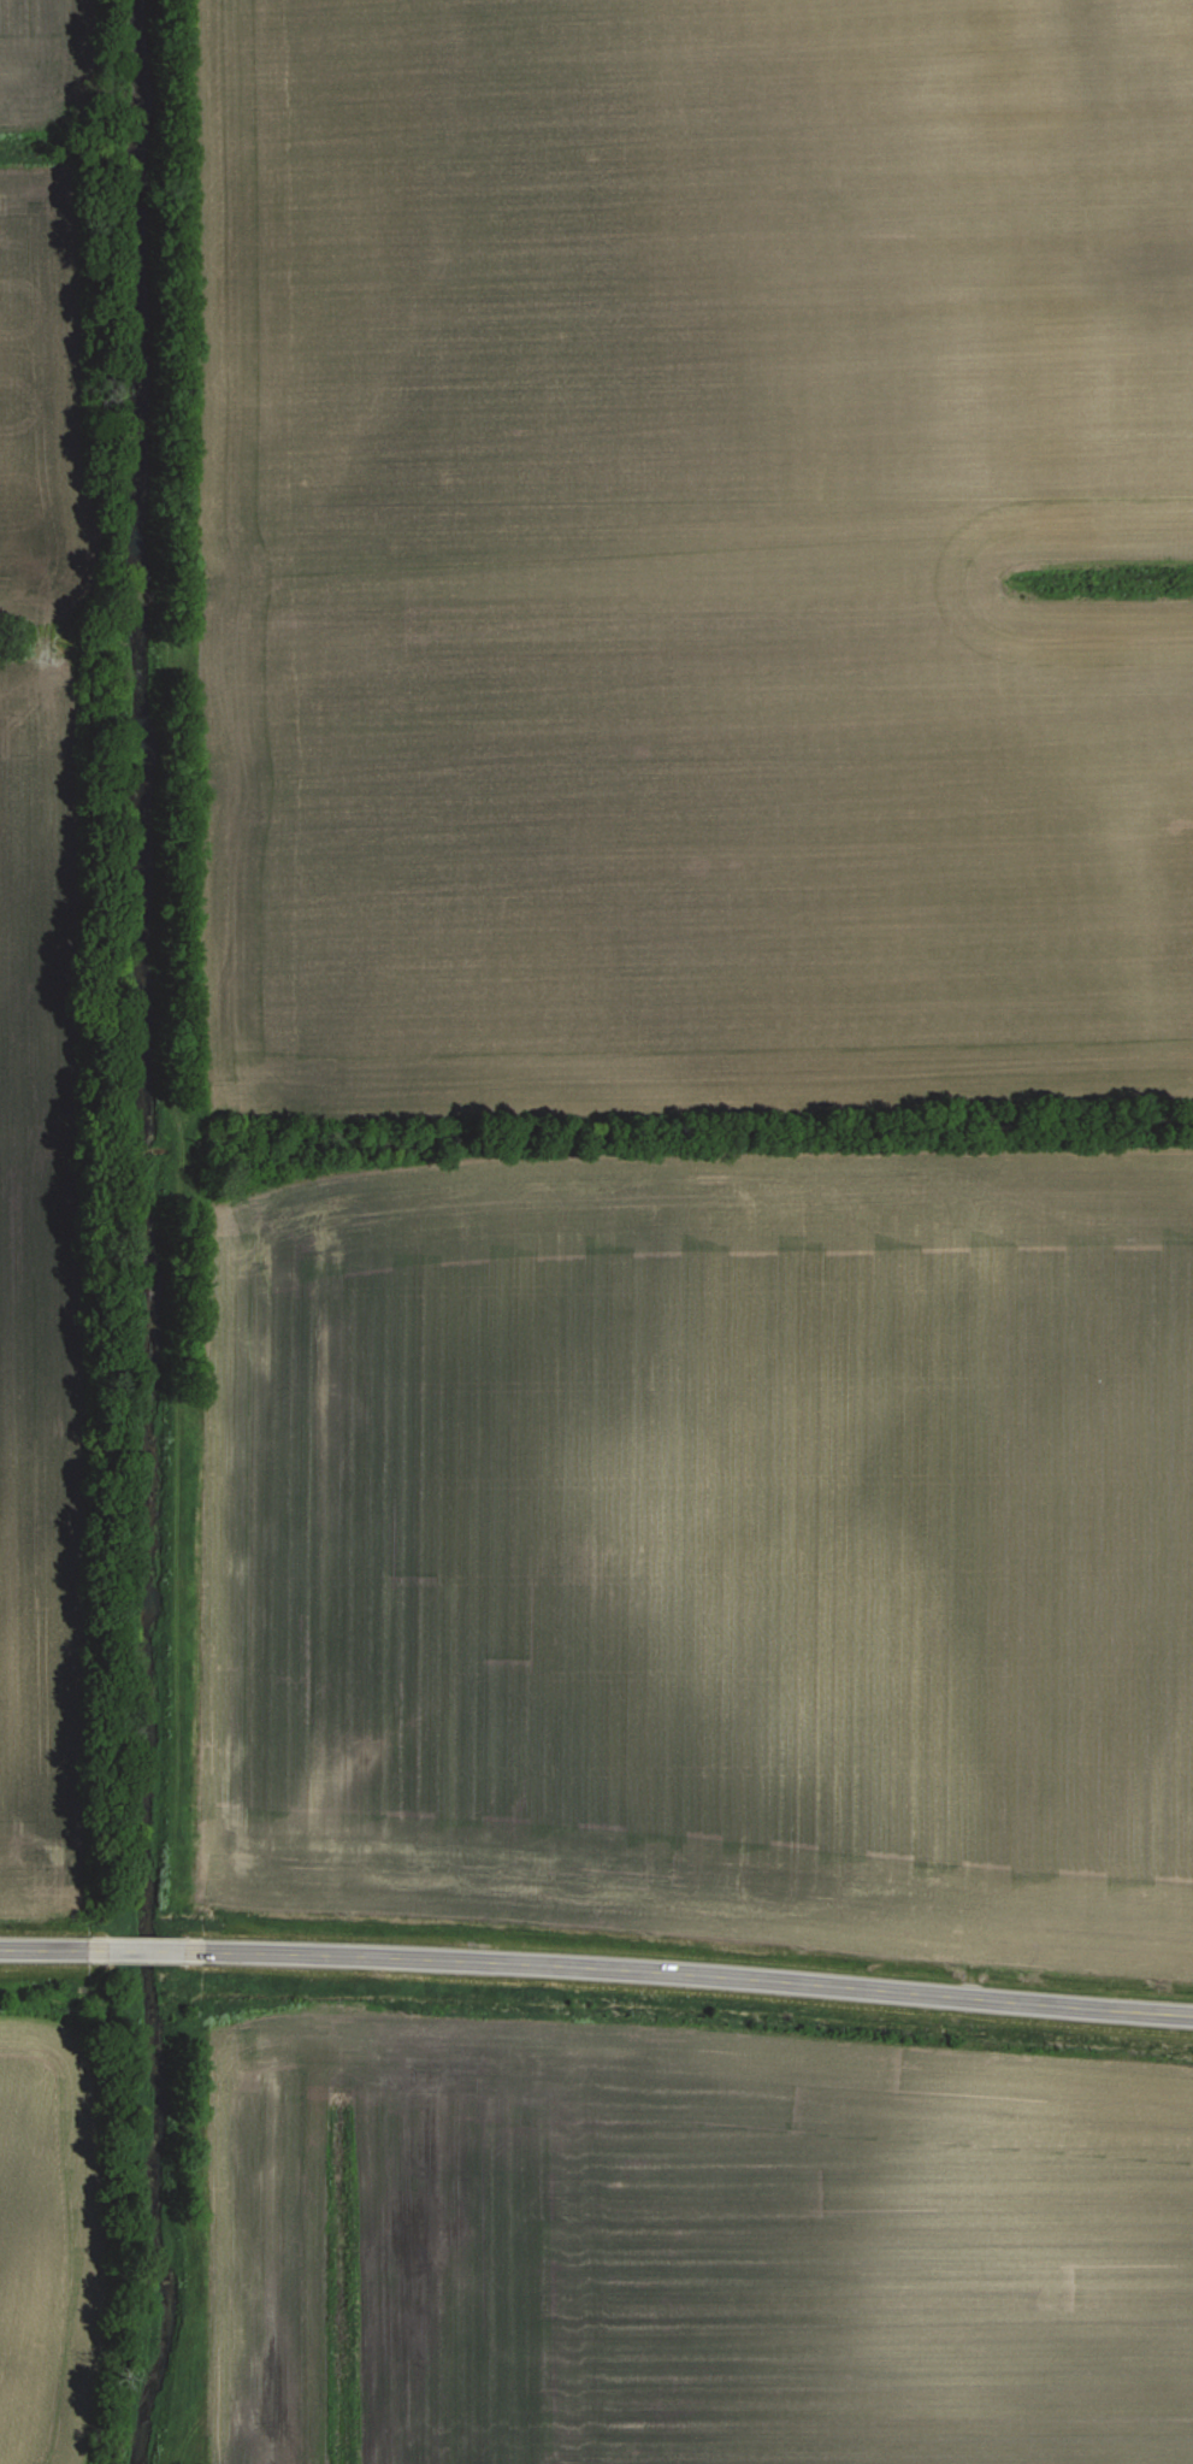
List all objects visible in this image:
road: (54, 1947)
road: (148, 1949)
road: (690, 1973)

